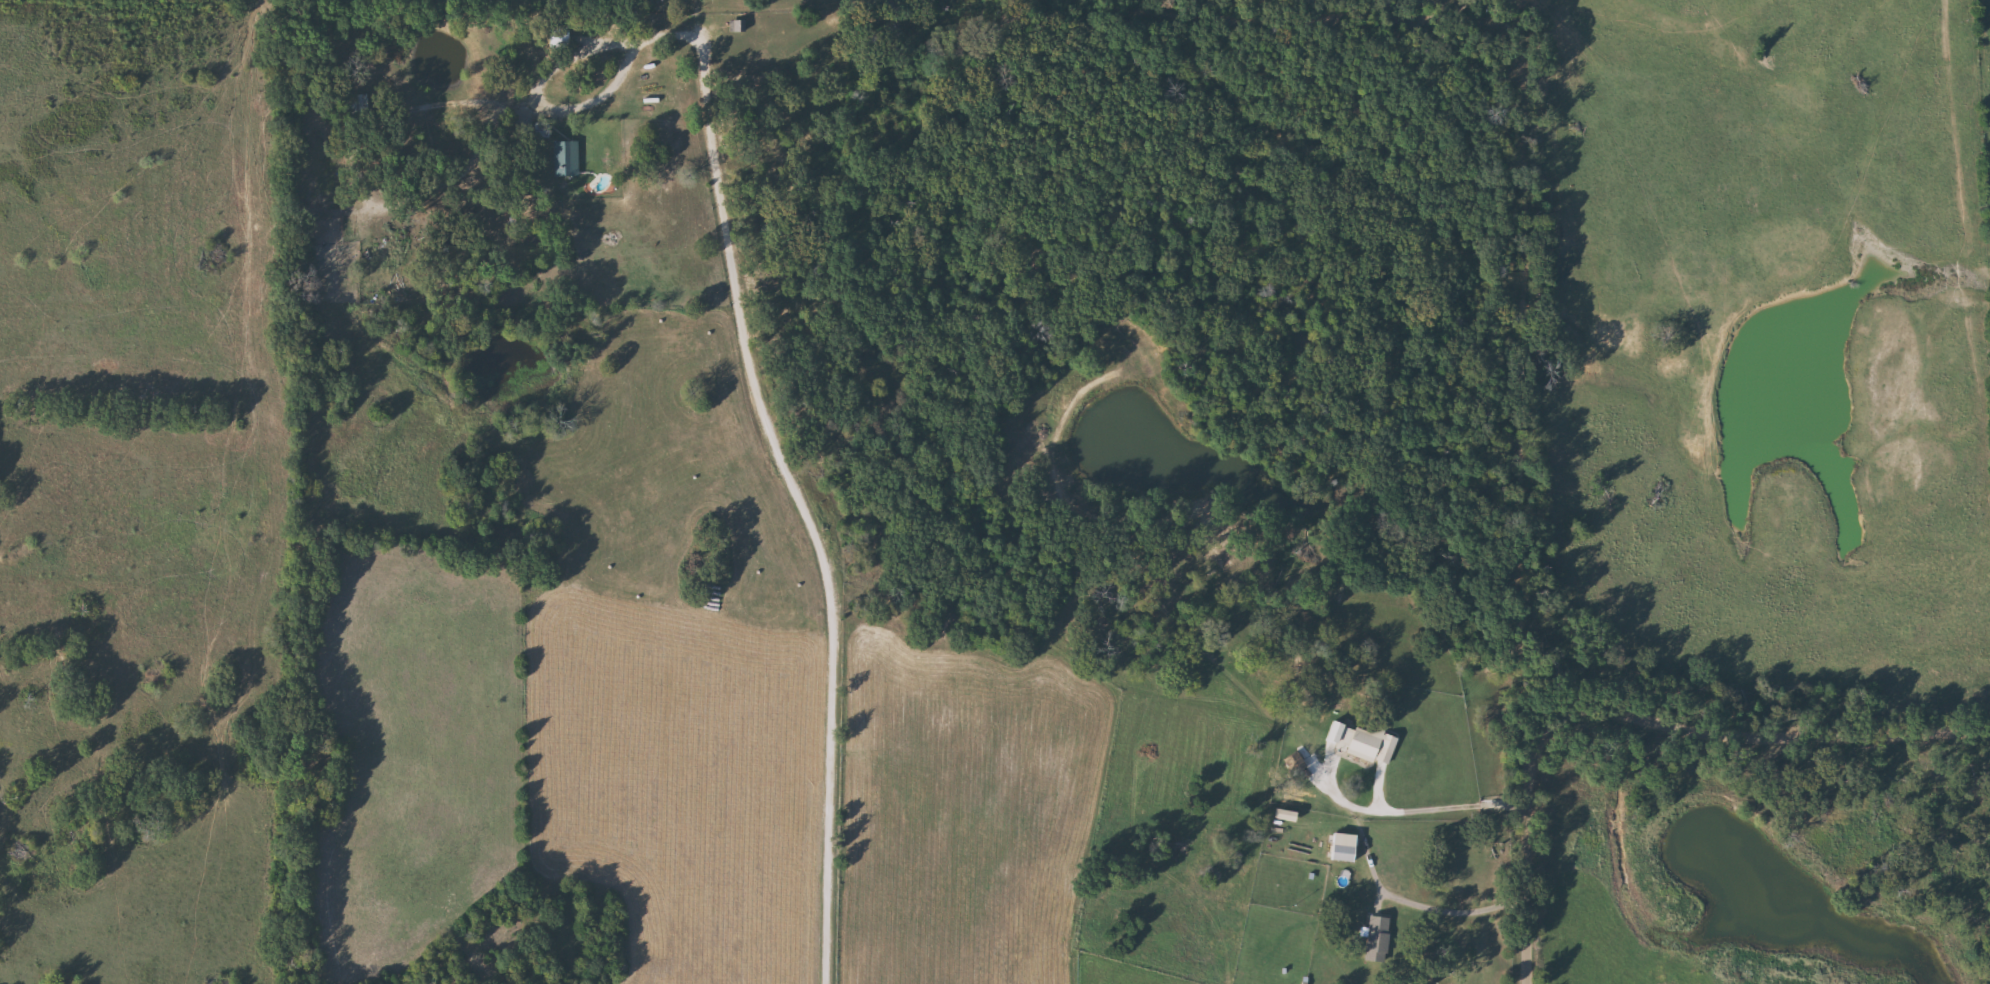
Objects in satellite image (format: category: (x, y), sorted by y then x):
park: (773, 5)
building: (739, 24)
building: (563, 36)
road: (544, 77)
building: (544, 130)
building: (569, 158)
building: (322, 209)
road: (794, 488)
road: (1640, 721)
building: (1369, 743)
road: (1365, 847)
building: (1347, 853)
building: (1381, 938)

